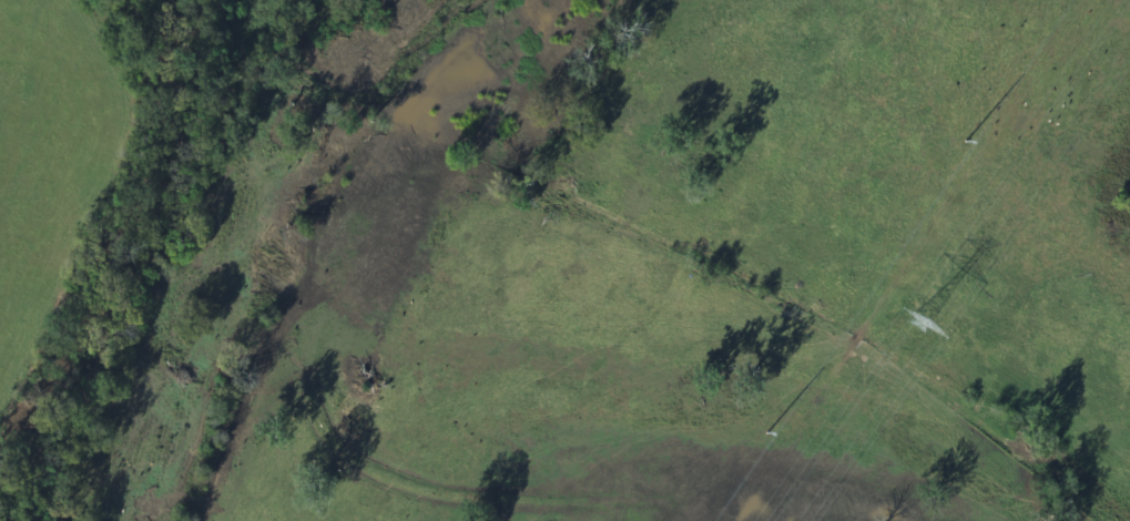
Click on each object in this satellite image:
power tower: (969, 142)
power tower: (922, 324)
power tower: (771, 433)

